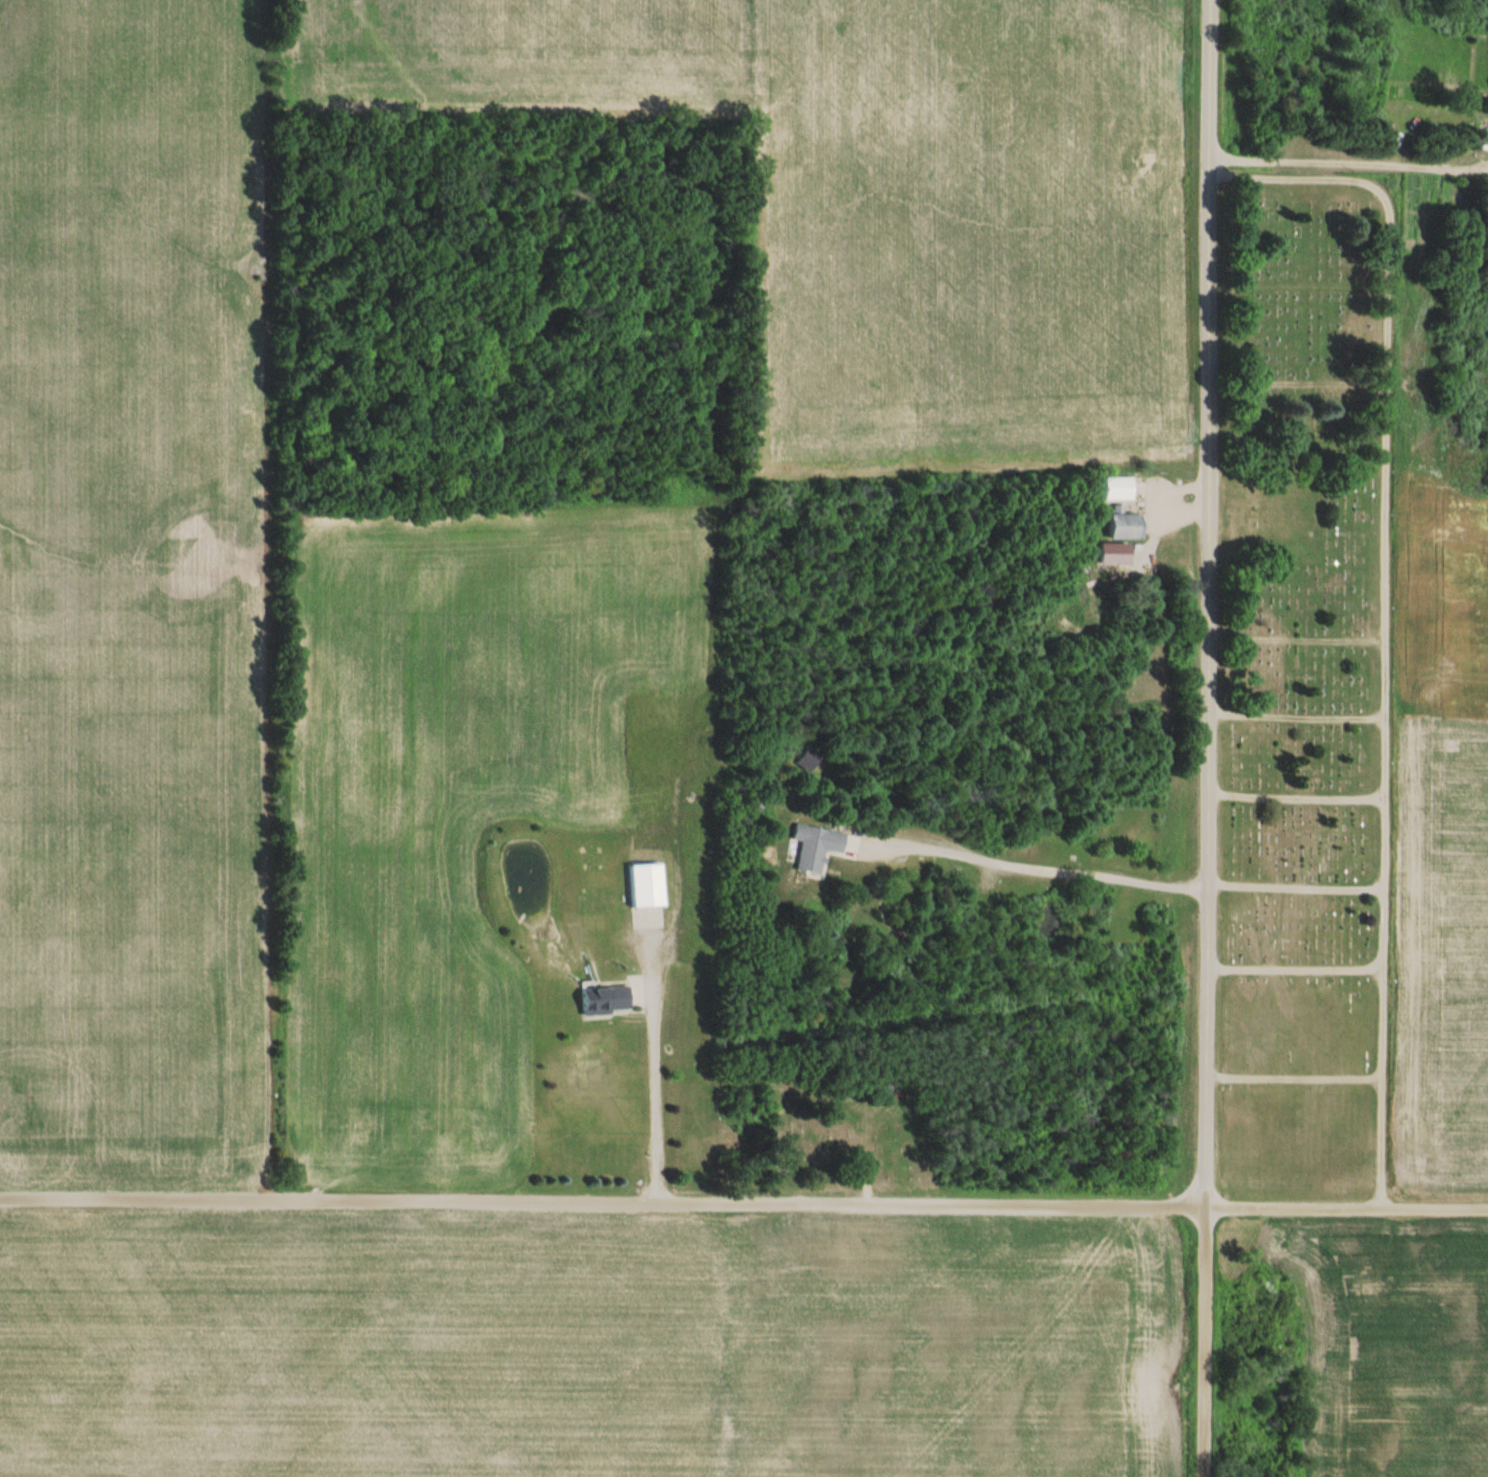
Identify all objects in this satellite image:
road: (1348, 169)
building: (1117, 489)
building: (1123, 525)
road: (1372, 571)
road: (1208, 604)
park: (1307, 684)
building: (807, 761)
building: (815, 847)
road: (1039, 865)
building: (645, 886)
building: (605, 1000)
road: (656, 1078)
park: (853, 1134)
road: (743, 1205)
road: (1203, 1342)

